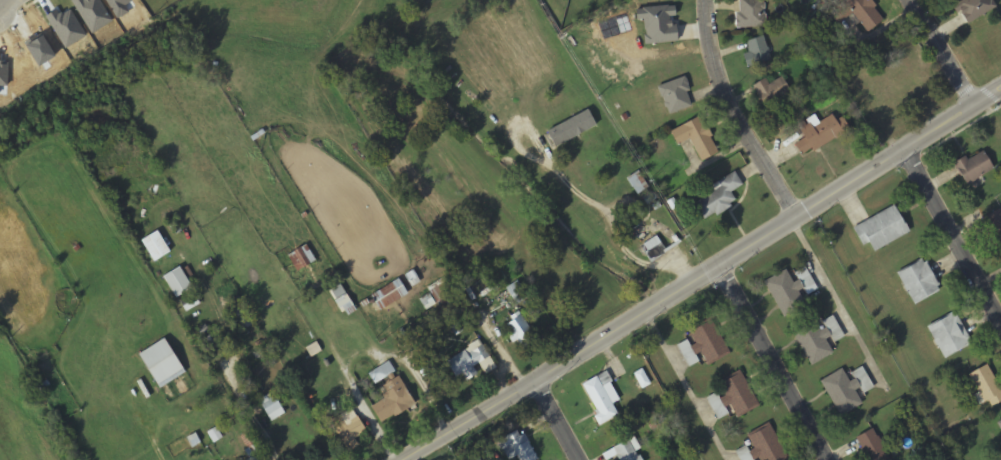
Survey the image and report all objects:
road: (4, 3)
building: (971, 9)
building: (856, 13)
building: (749, 14)
building: (754, 52)
road: (945, 55)
building: (908, 77)
building: (769, 91)
building: (673, 96)
road: (739, 116)
building: (573, 130)
building: (818, 133)
building: (693, 138)
building: (972, 168)
building: (716, 197)
building: (993, 226)
building: (879, 230)
road: (952, 239)
building: (157, 248)
building: (652, 249)
building: (302, 259)
road: (708, 275)
building: (916, 282)
building: (179, 284)
building: (788, 291)
building: (390, 296)
building: (242, 320)
building: (522, 334)
building: (948, 336)
building: (815, 340)
building: (707, 343)
building: (213, 344)
building: (471, 363)
road: (772, 364)
building: (163, 365)
building: (985, 386)
building: (839, 393)
building: (731, 397)
building: (603, 398)
building: (393, 402)
building: (273, 408)
road: (556, 423)
building: (349, 425)
building: (999, 426)
building: (628, 452)

